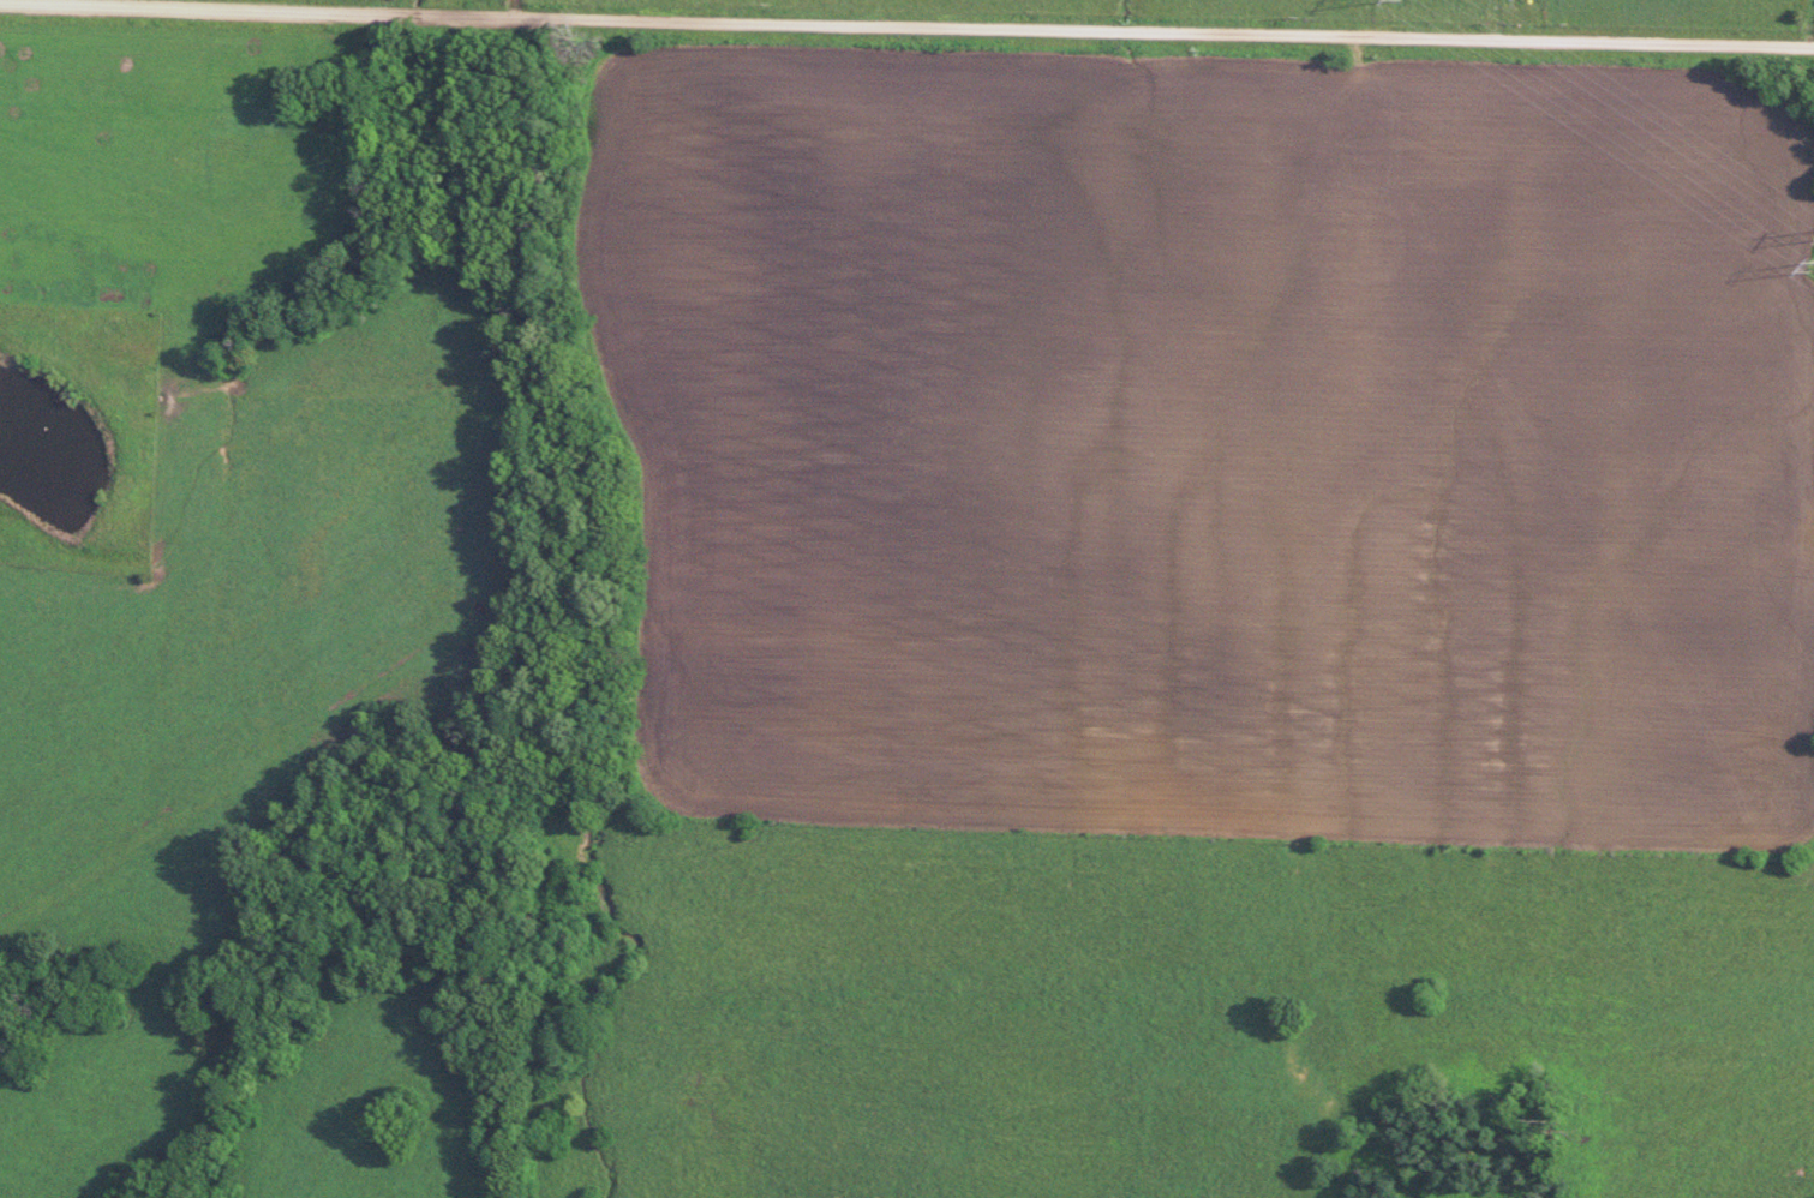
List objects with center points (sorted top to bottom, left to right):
road: (906, 25)
power tower: (1804, 271)

